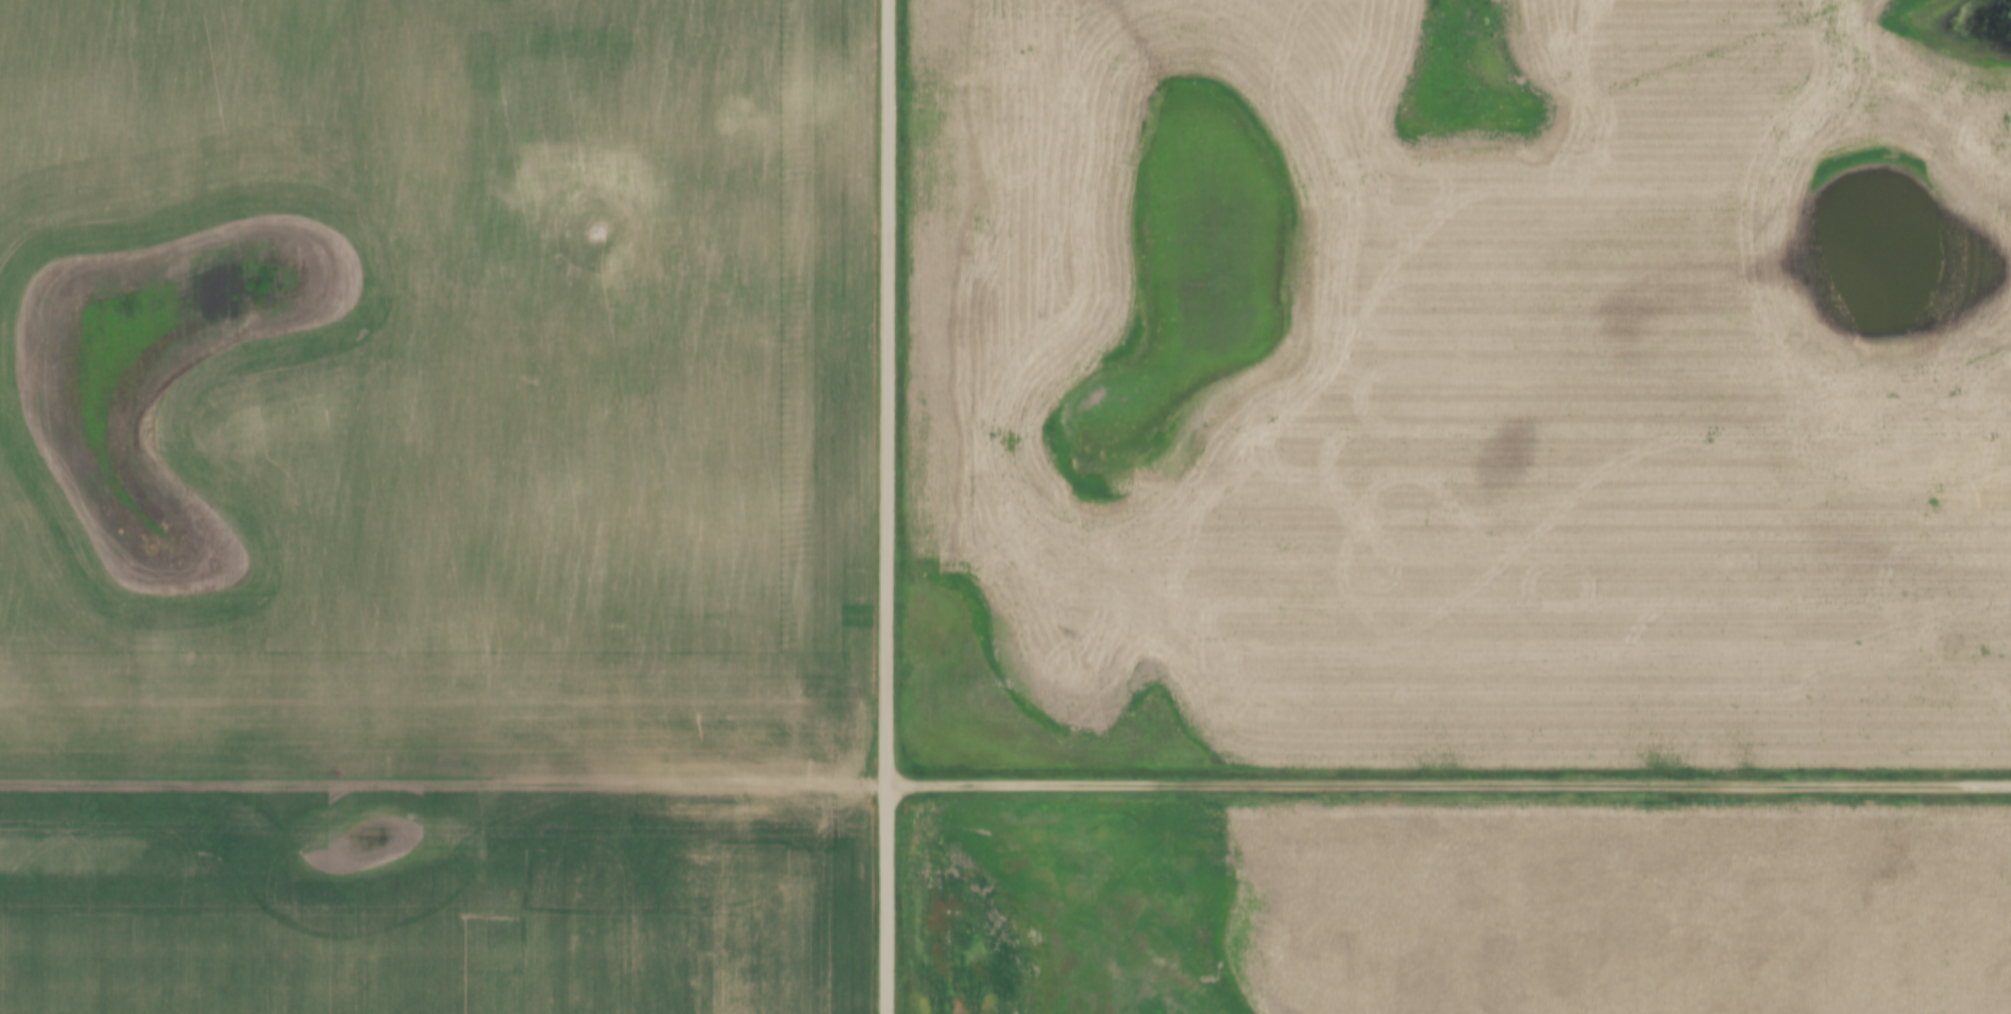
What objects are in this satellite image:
road: (886, 507)
road: (445, 771)
road: (1450, 781)

